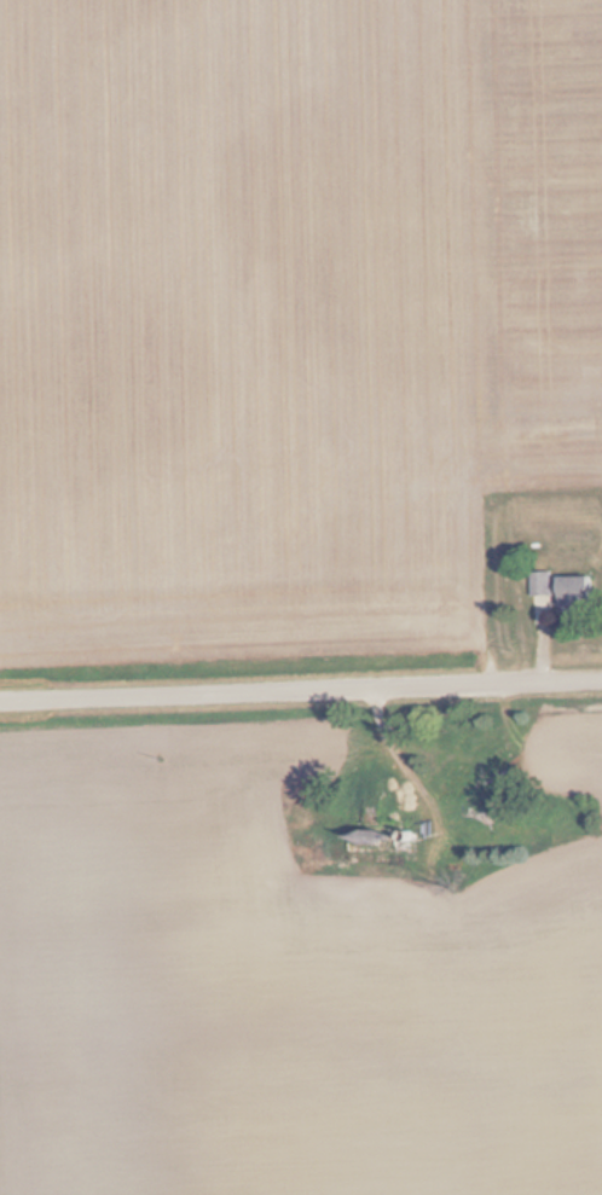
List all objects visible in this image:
building: (560, 590)
road: (301, 689)

